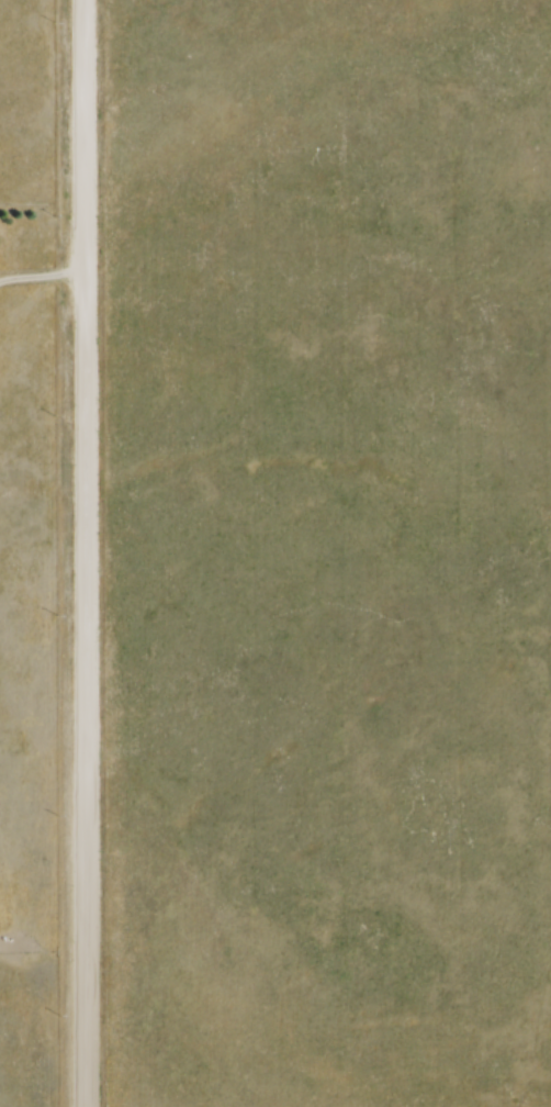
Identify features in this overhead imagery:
road: (85, 553)

